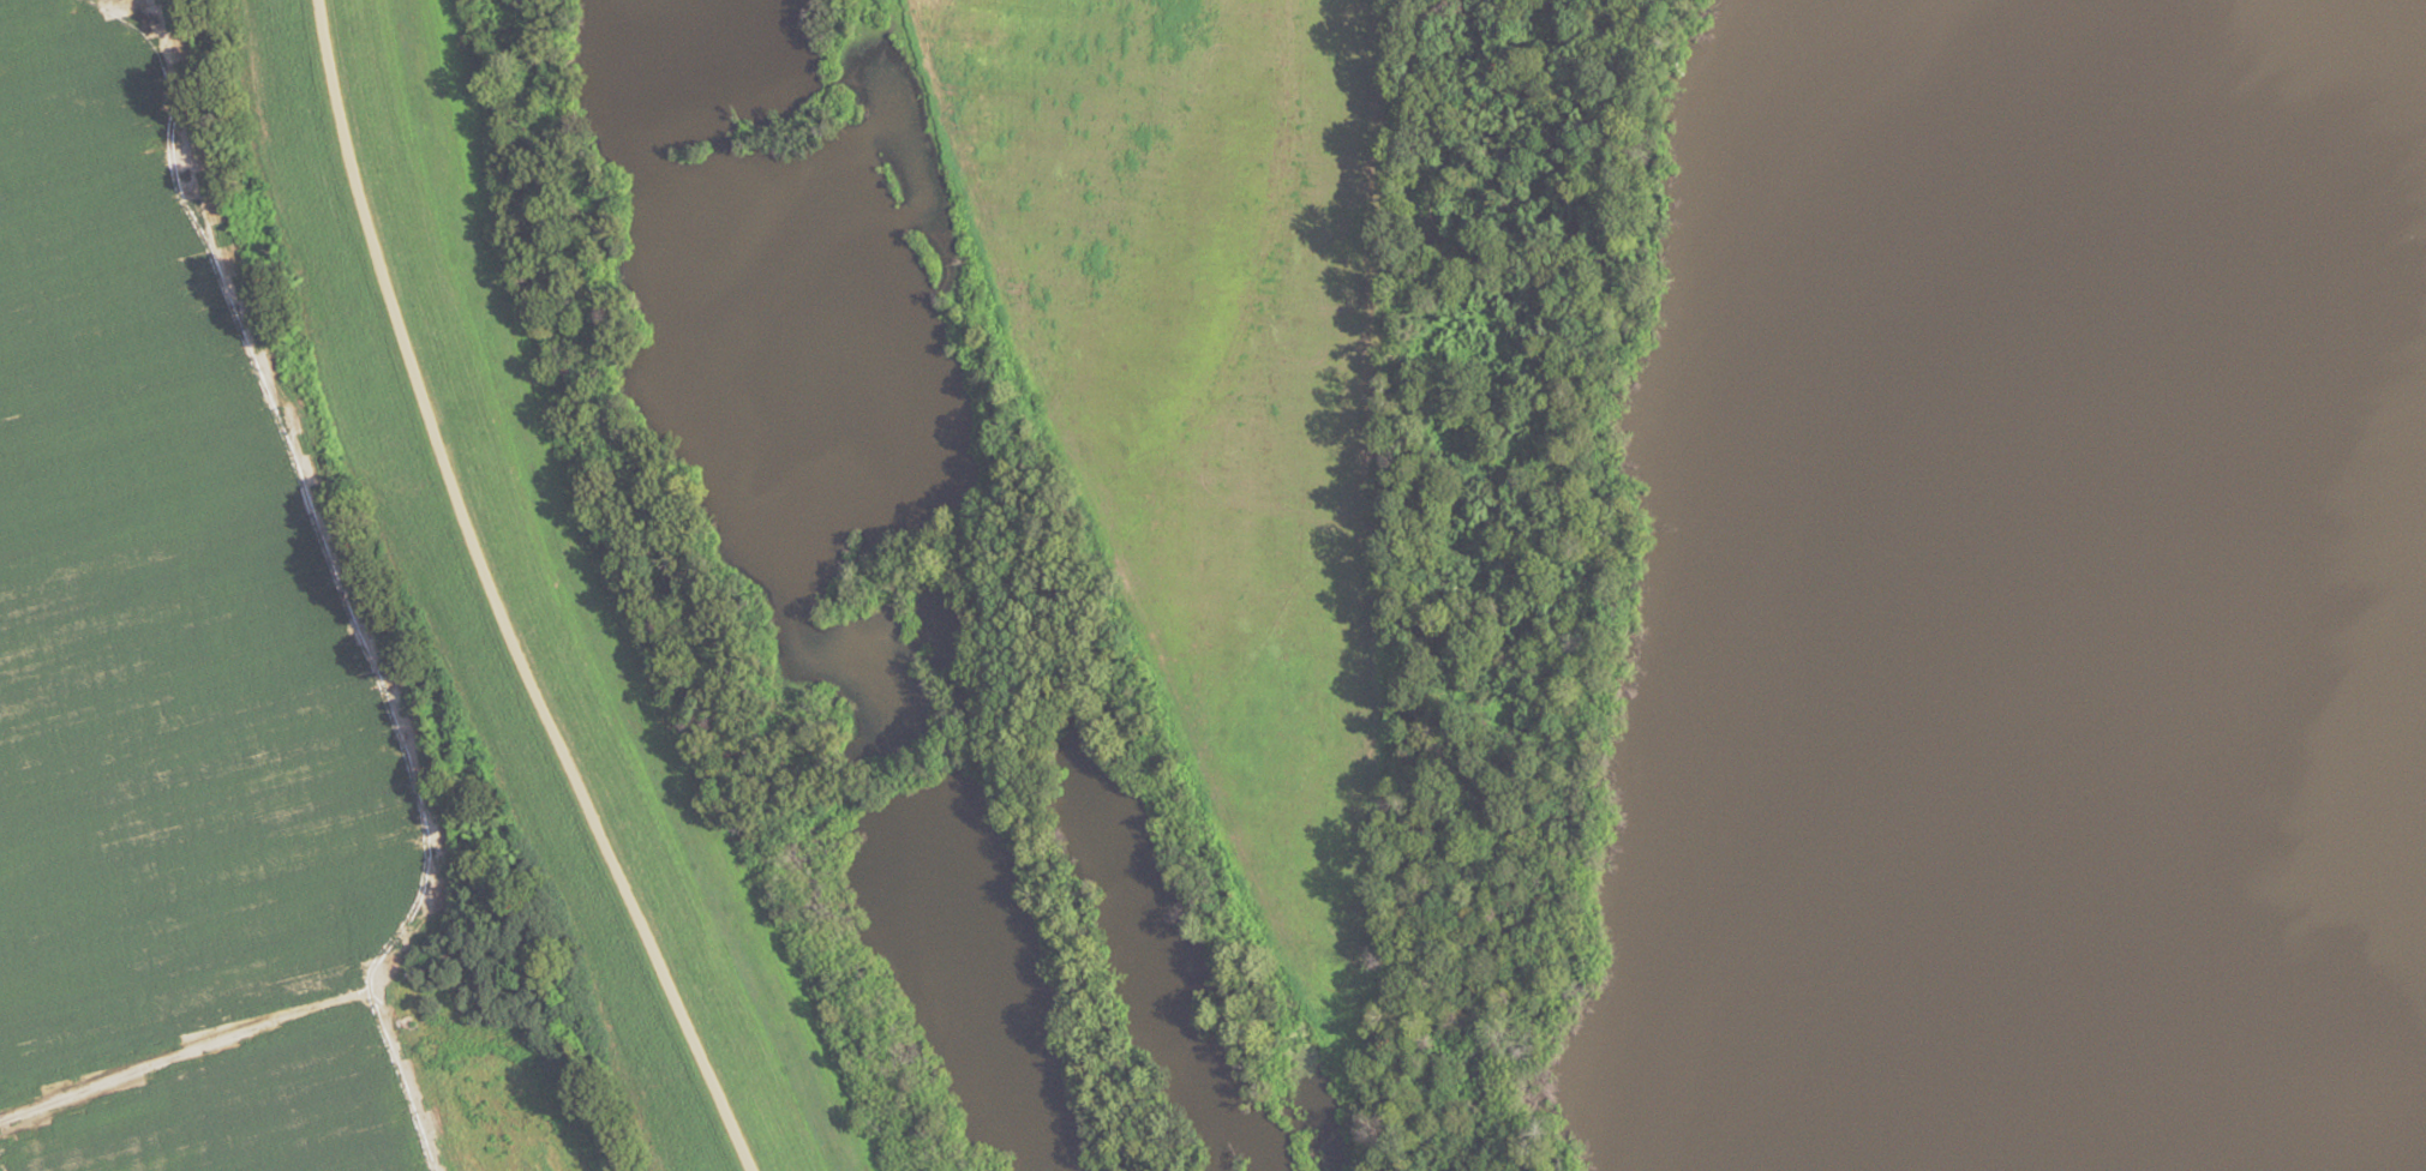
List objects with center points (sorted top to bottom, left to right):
road: (496, 599)

